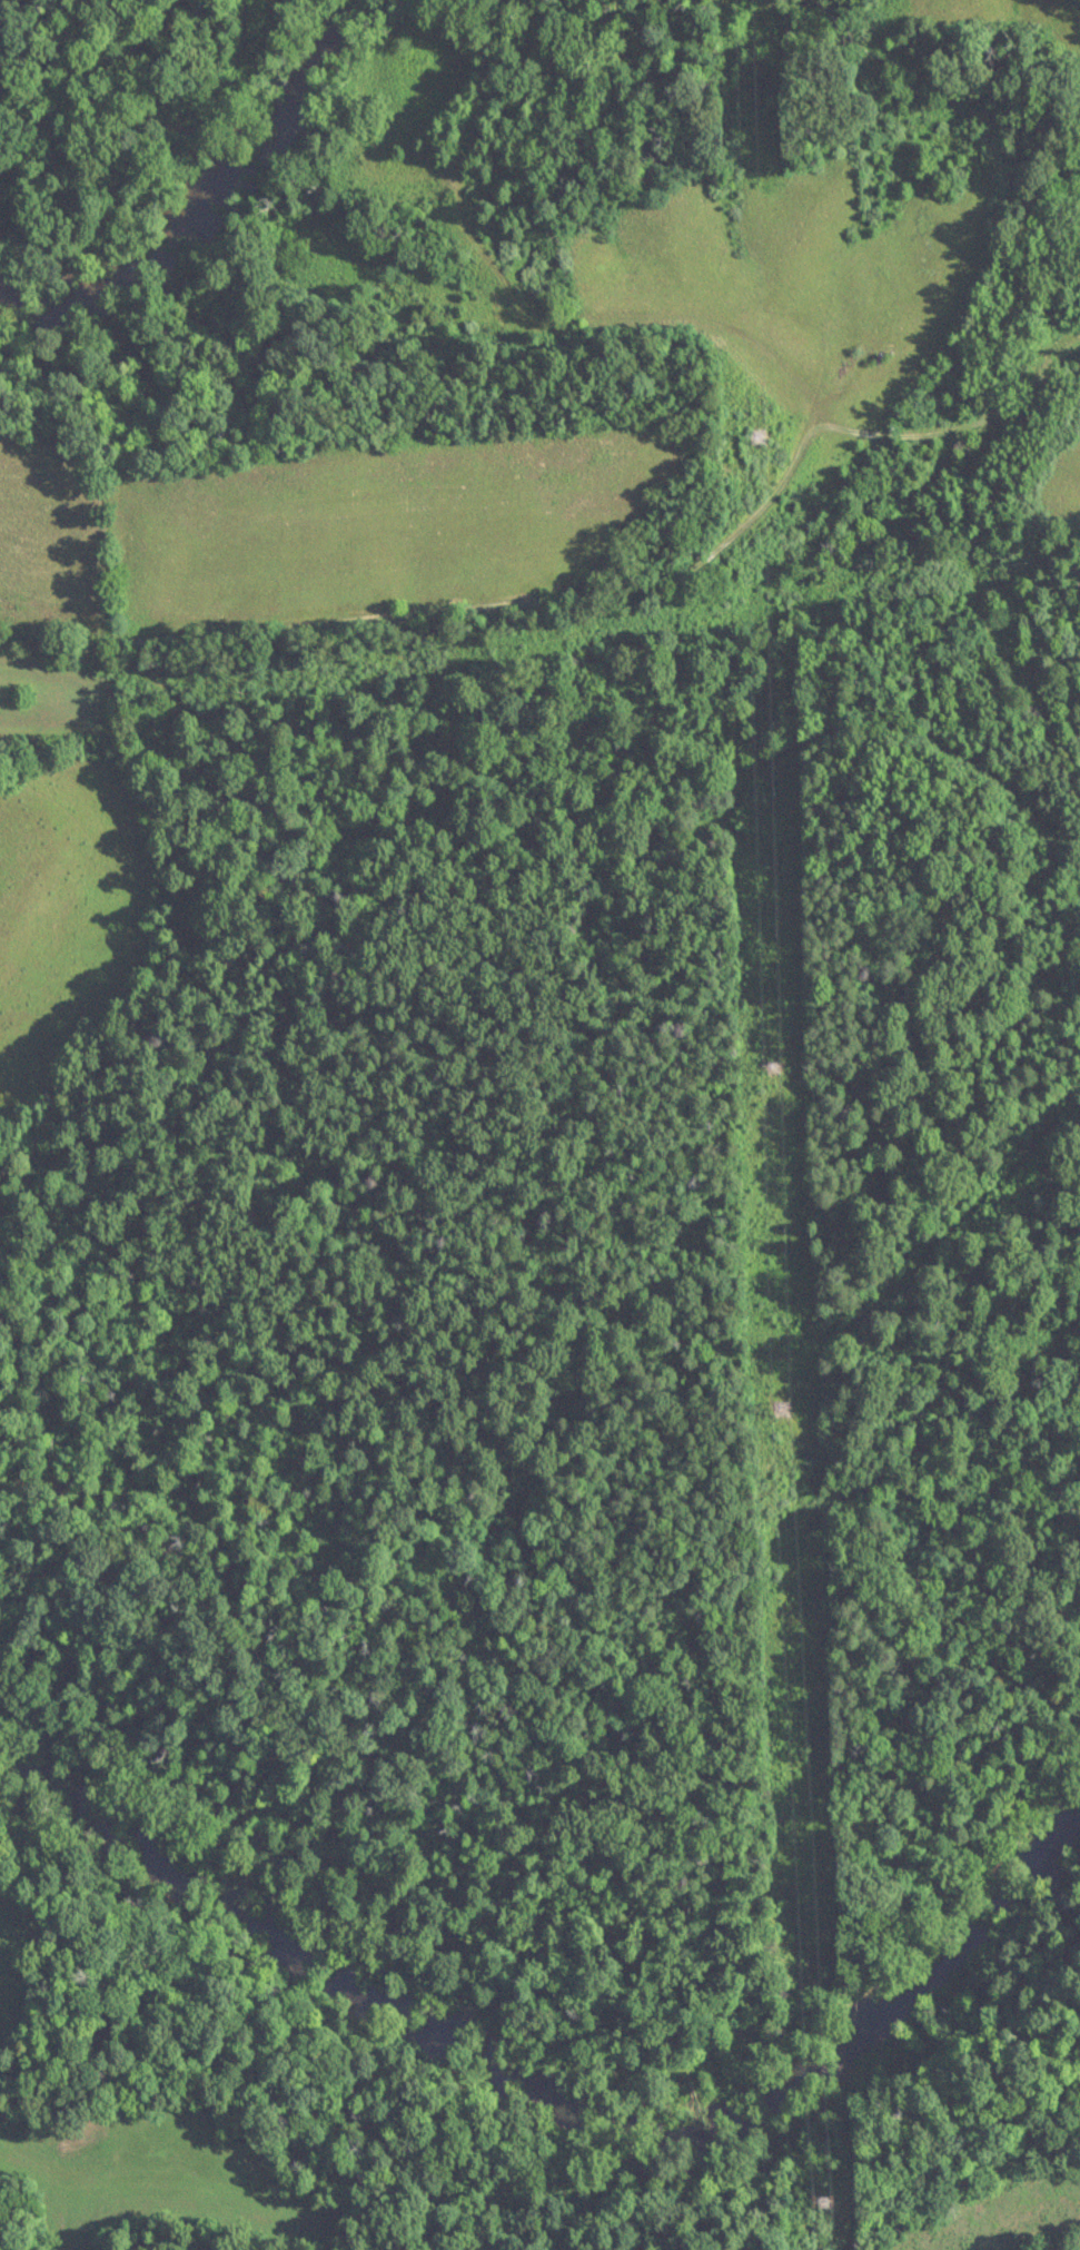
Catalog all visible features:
road: (1034, 388)
power tower: (760, 427)
road: (529, 625)
power tower: (769, 1065)
power tower: (781, 1402)
power tower: (821, 2194)

